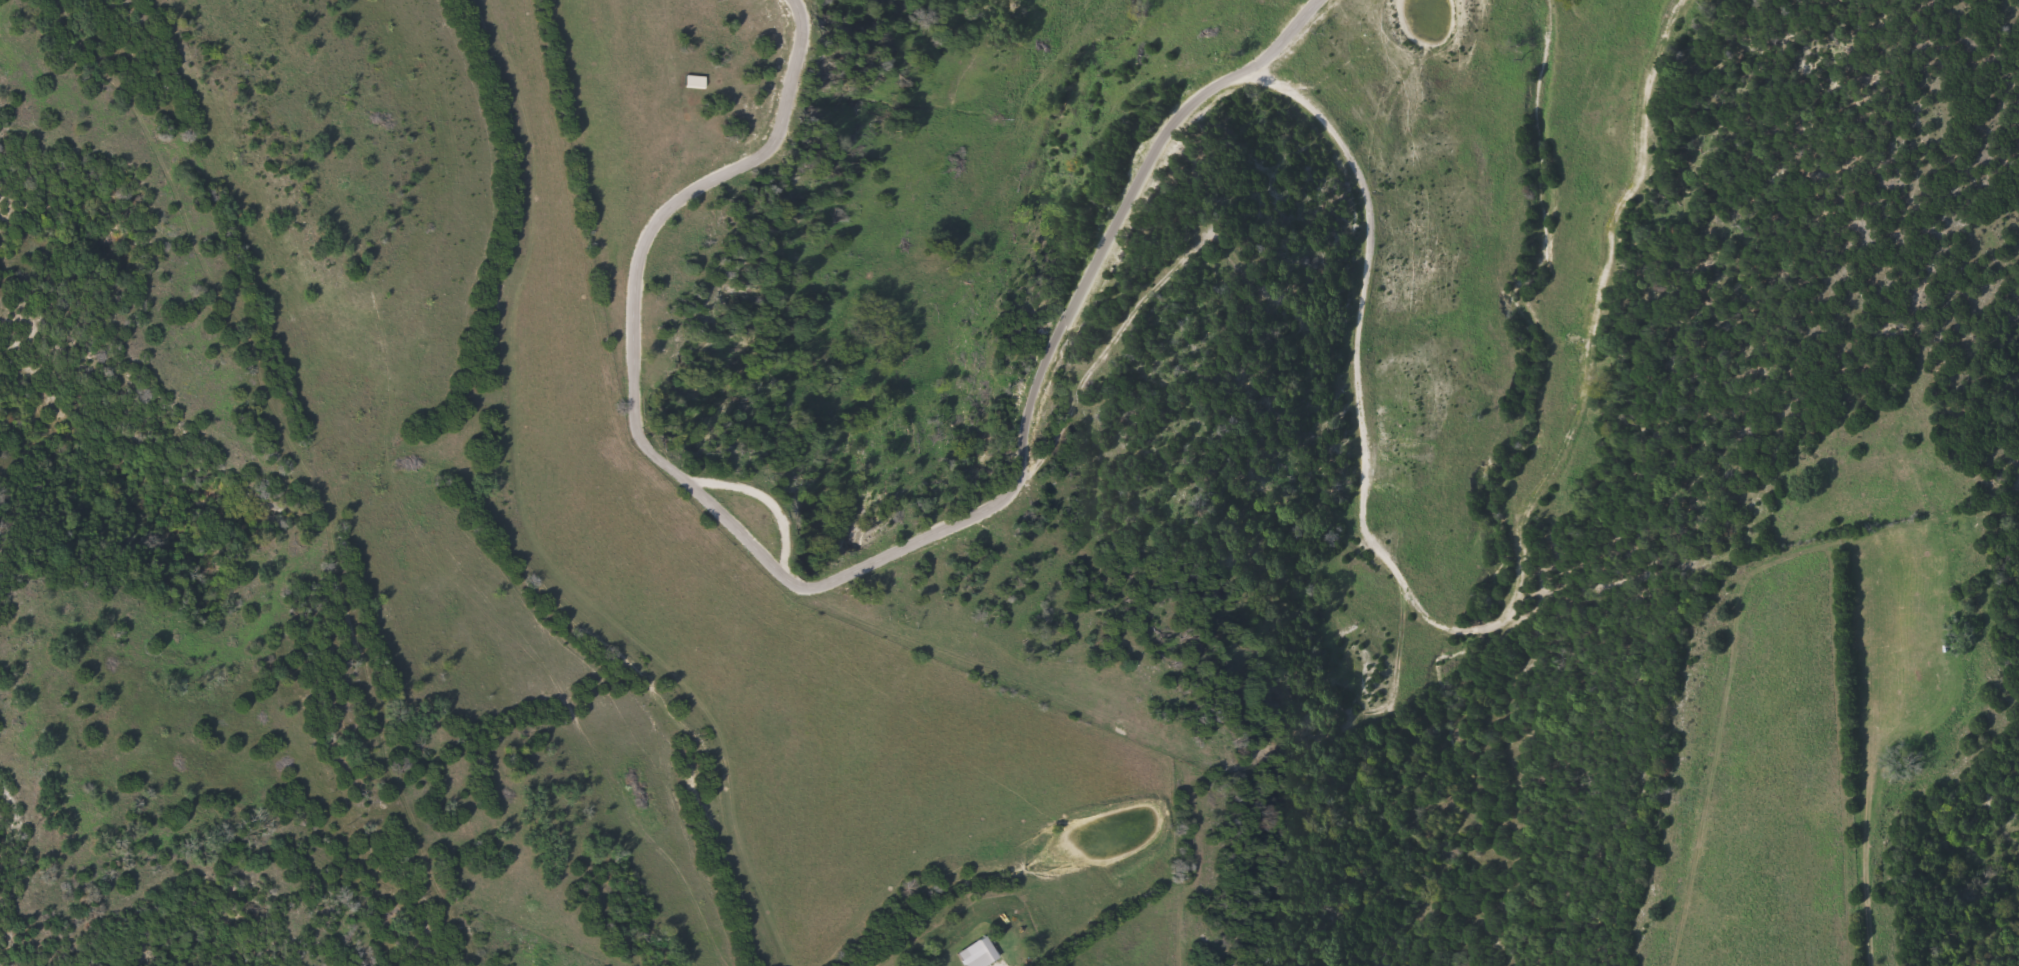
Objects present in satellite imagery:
road: (1289, 38)
building: (697, 81)
road: (1214, 251)
road: (268, 346)
road: (637, 429)
road: (1360, 451)
building: (978, 953)

